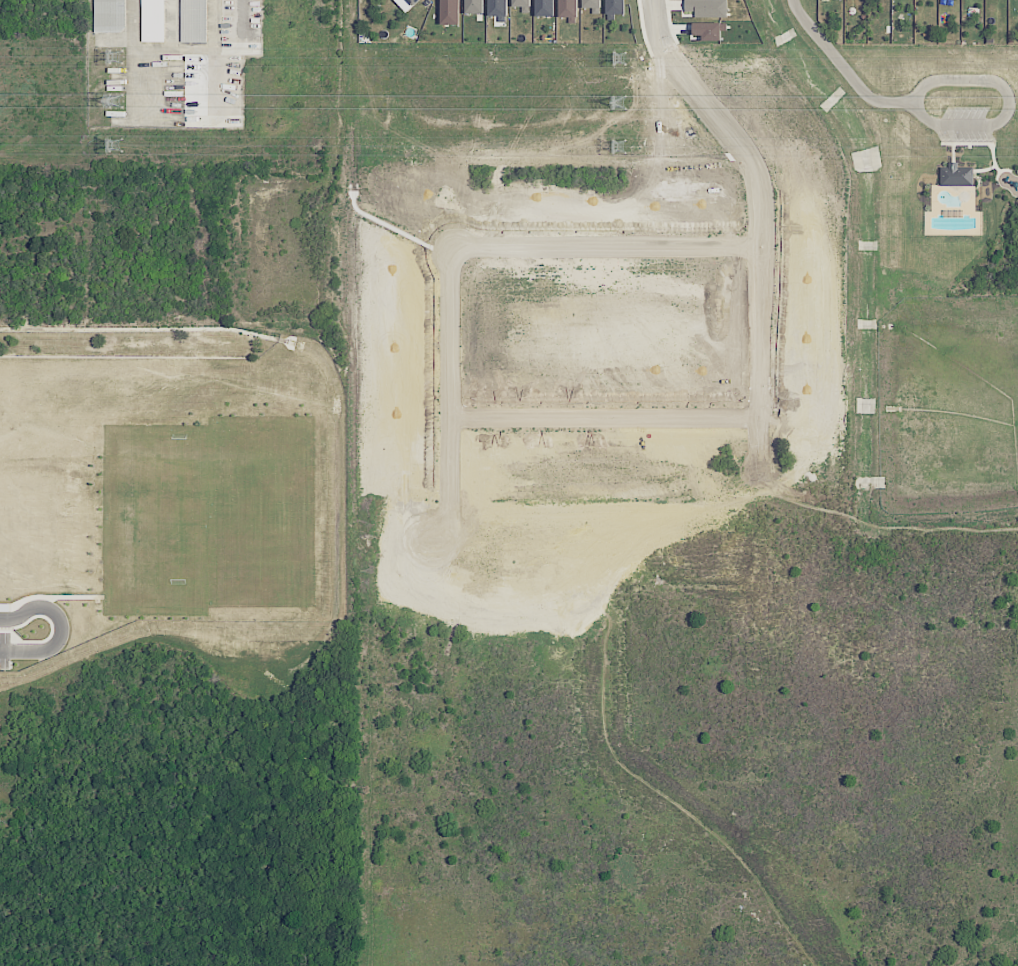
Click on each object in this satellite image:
building: (413, 2)
building: (520, 3)
building: (591, 3)
building: (474, 6)
building: (568, 8)
building: (707, 8)
building: (499, 9)
building: (451, 12)
building: (109, 15)
building: (152, 21)
building: (193, 21)
road: (665, 37)
power tower: (116, 57)
power tower: (619, 59)
road: (843, 66)
power tower: (116, 100)
power tower: (619, 102)
road: (1007, 103)
power tower: (115, 146)
power tower: (618, 147)
building: (956, 175)
road: (563, 418)
road: (604, 589)
road: (64, 628)
road: (453, 658)
road: (625, 667)

